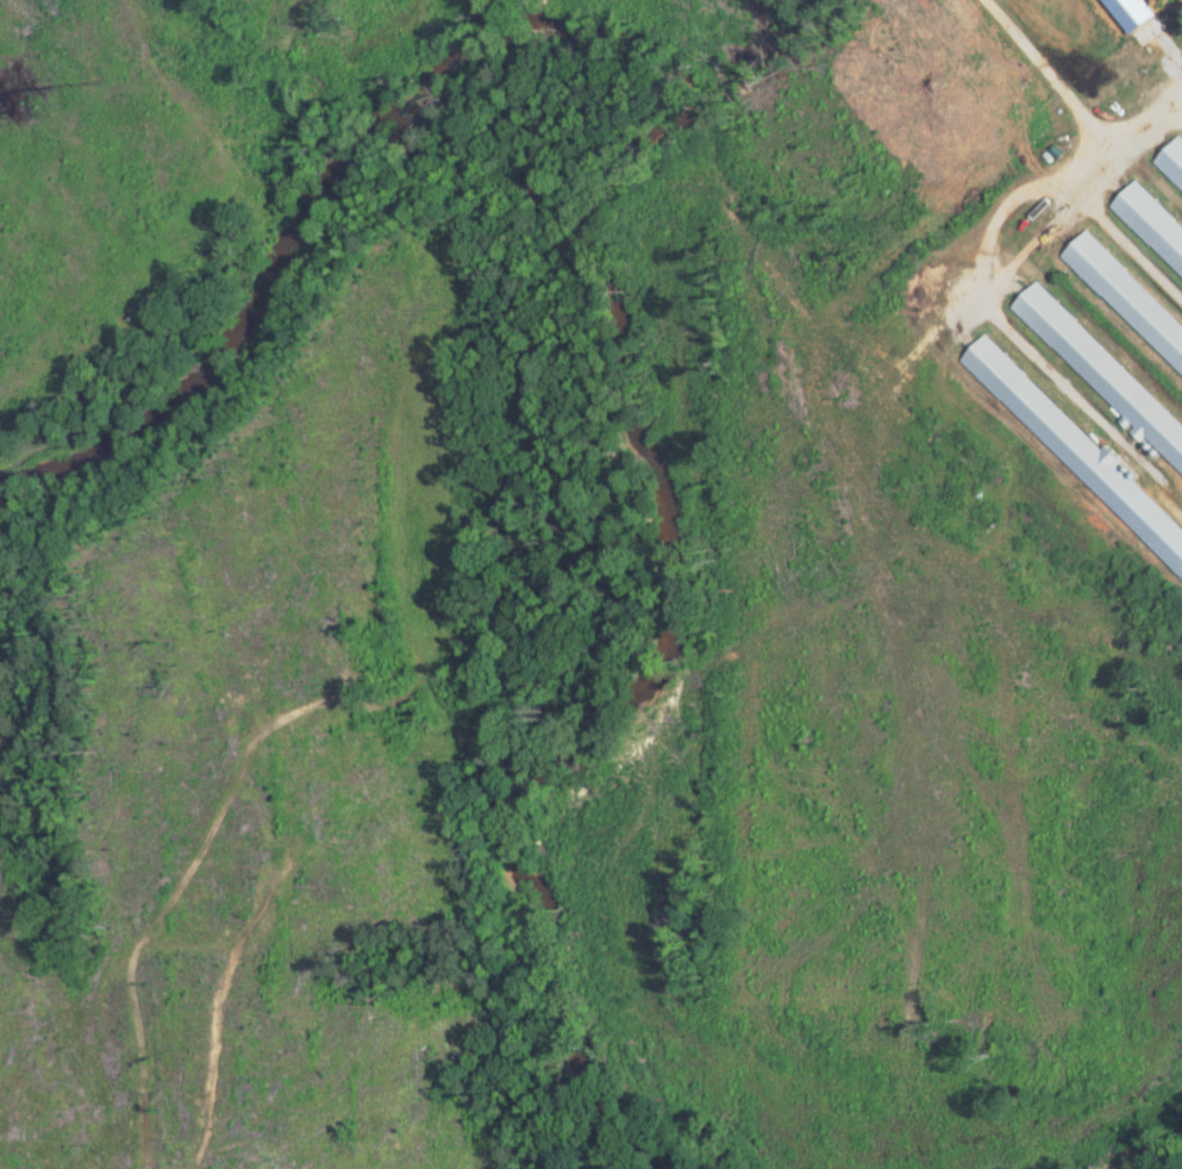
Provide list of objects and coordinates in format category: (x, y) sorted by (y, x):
building: (1170, 162)
building: (1150, 225)
building: (1126, 296)
building: (1102, 371)
building: (1076, 448)

